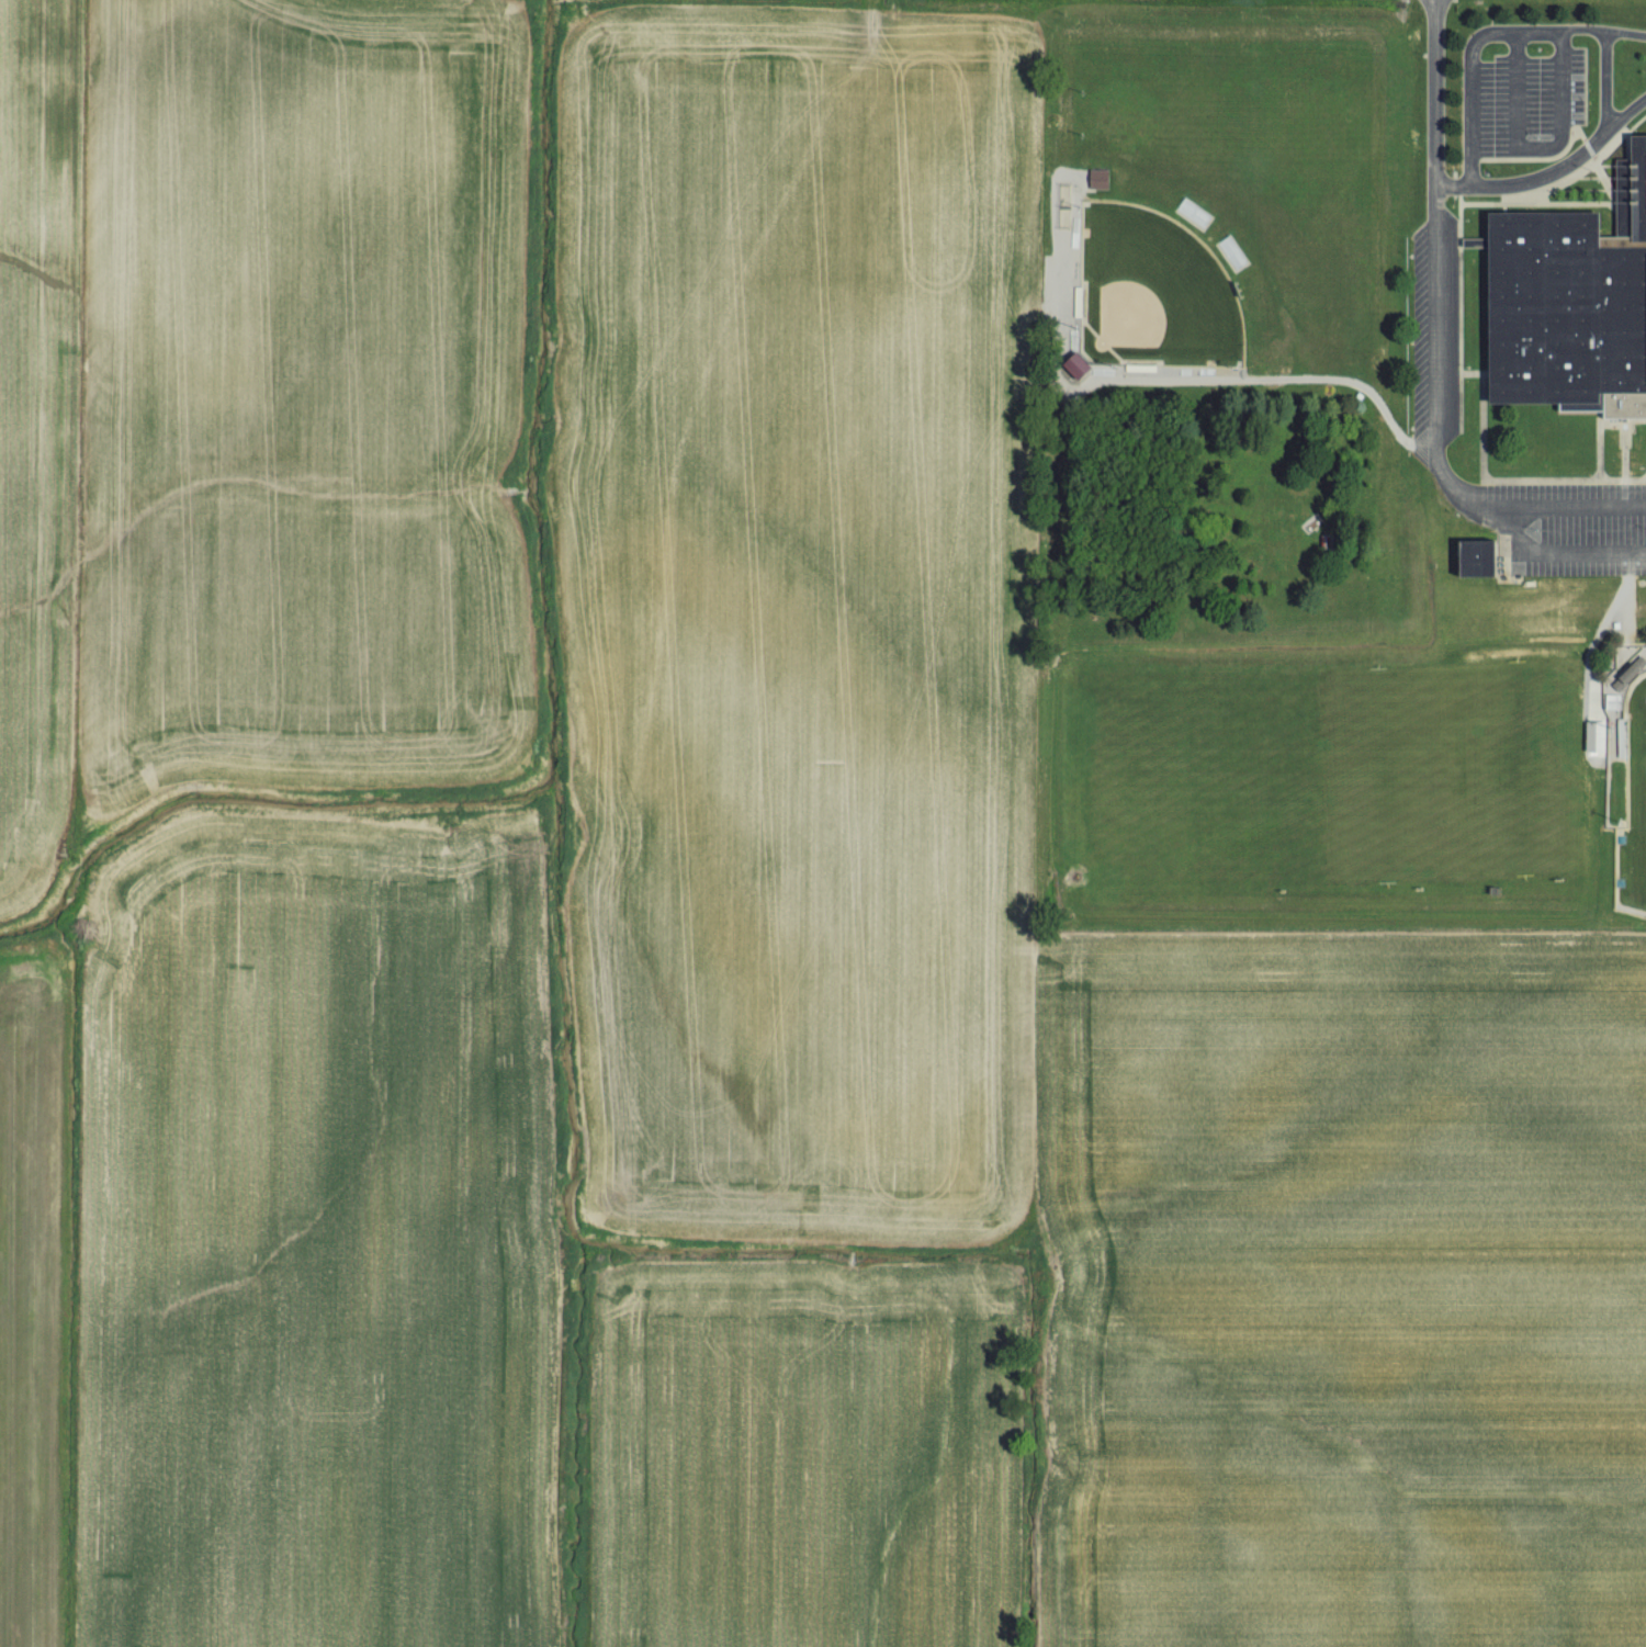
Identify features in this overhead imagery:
road: (1486, 34)
road: (1551, 174)
building: (1567, 311)
road: (1431, 343)
road: (1282, 380)
building: (1473, 560)

